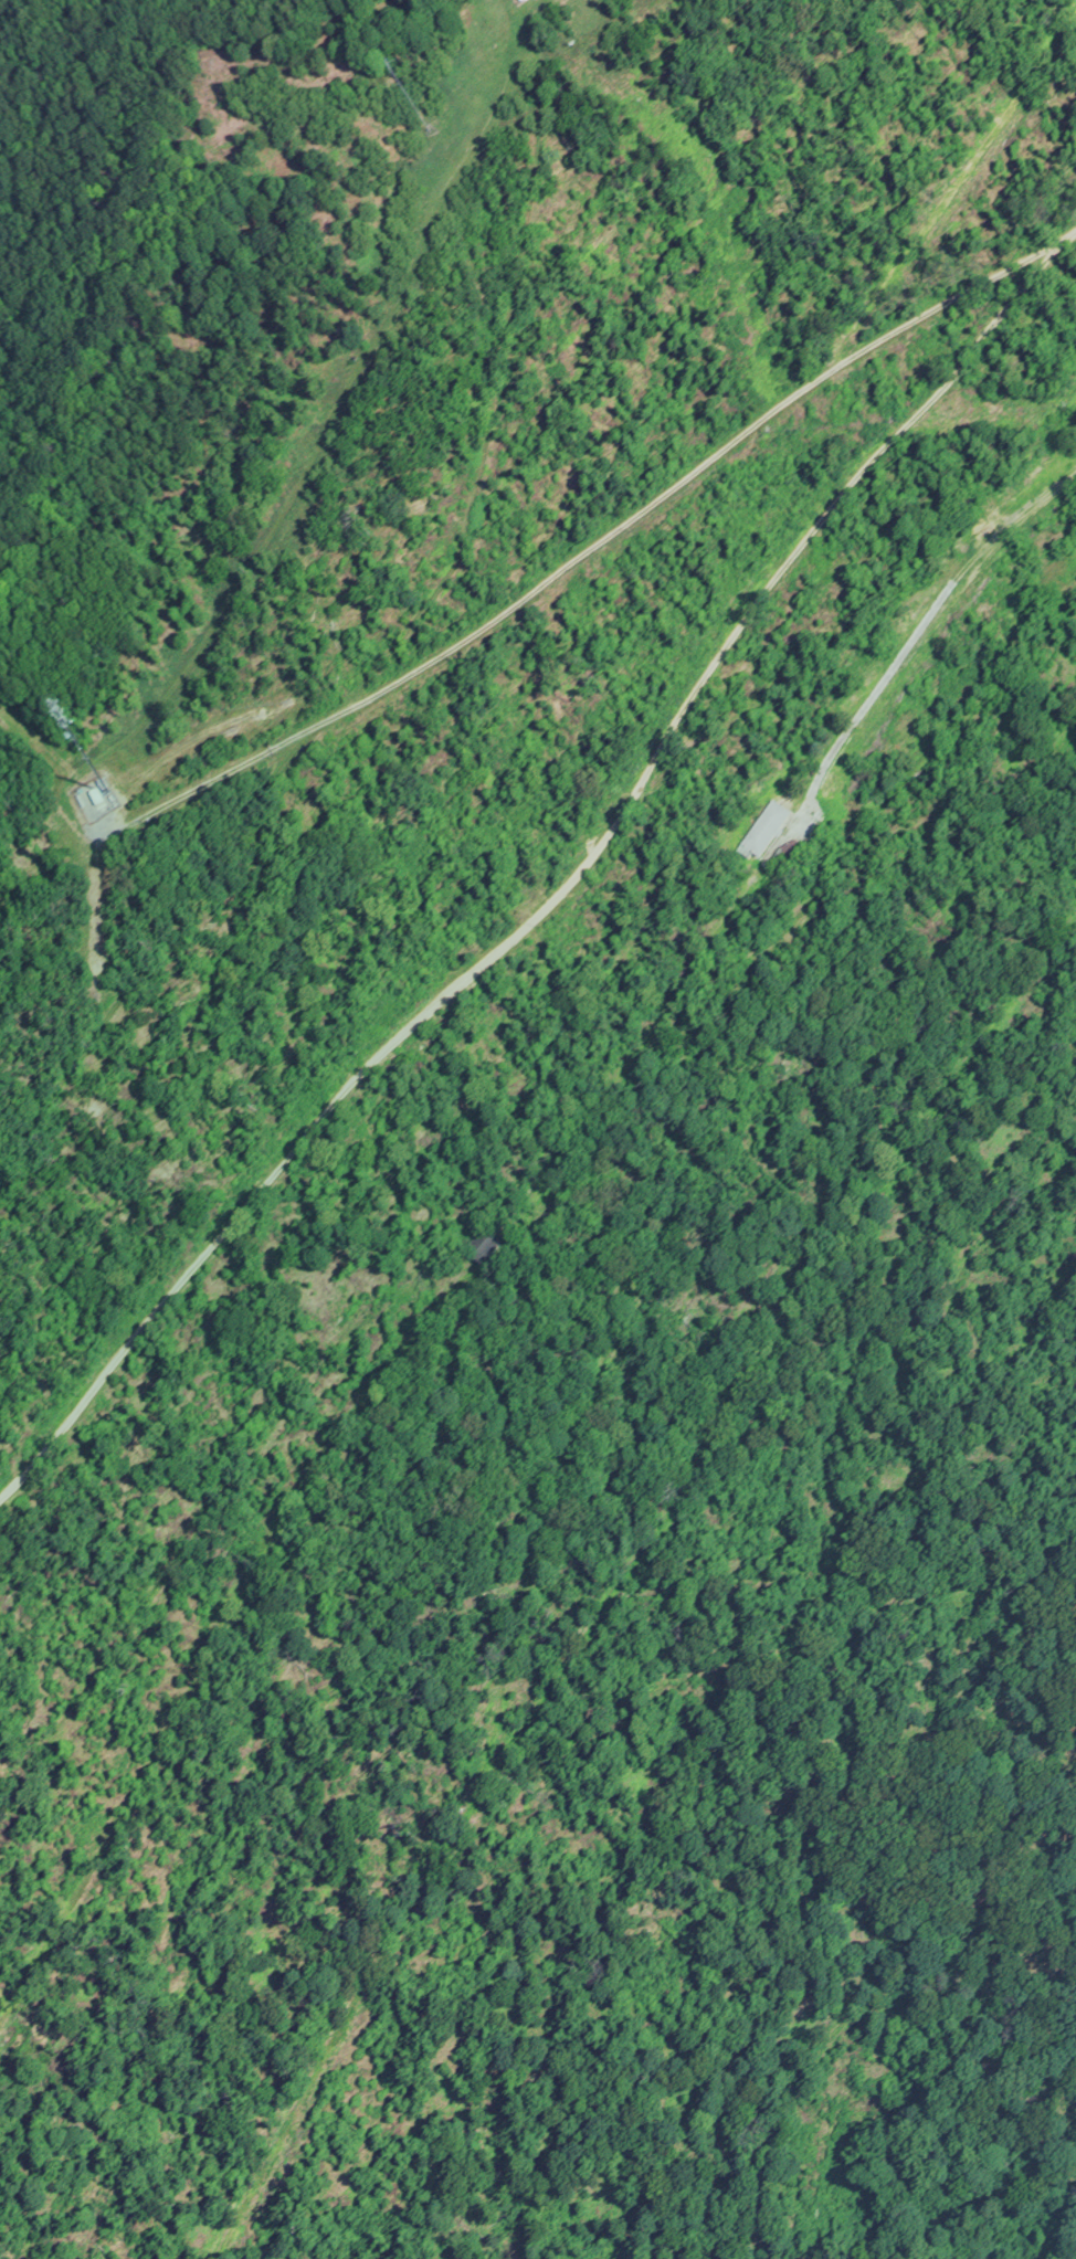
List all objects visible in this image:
road: (975, 577)

